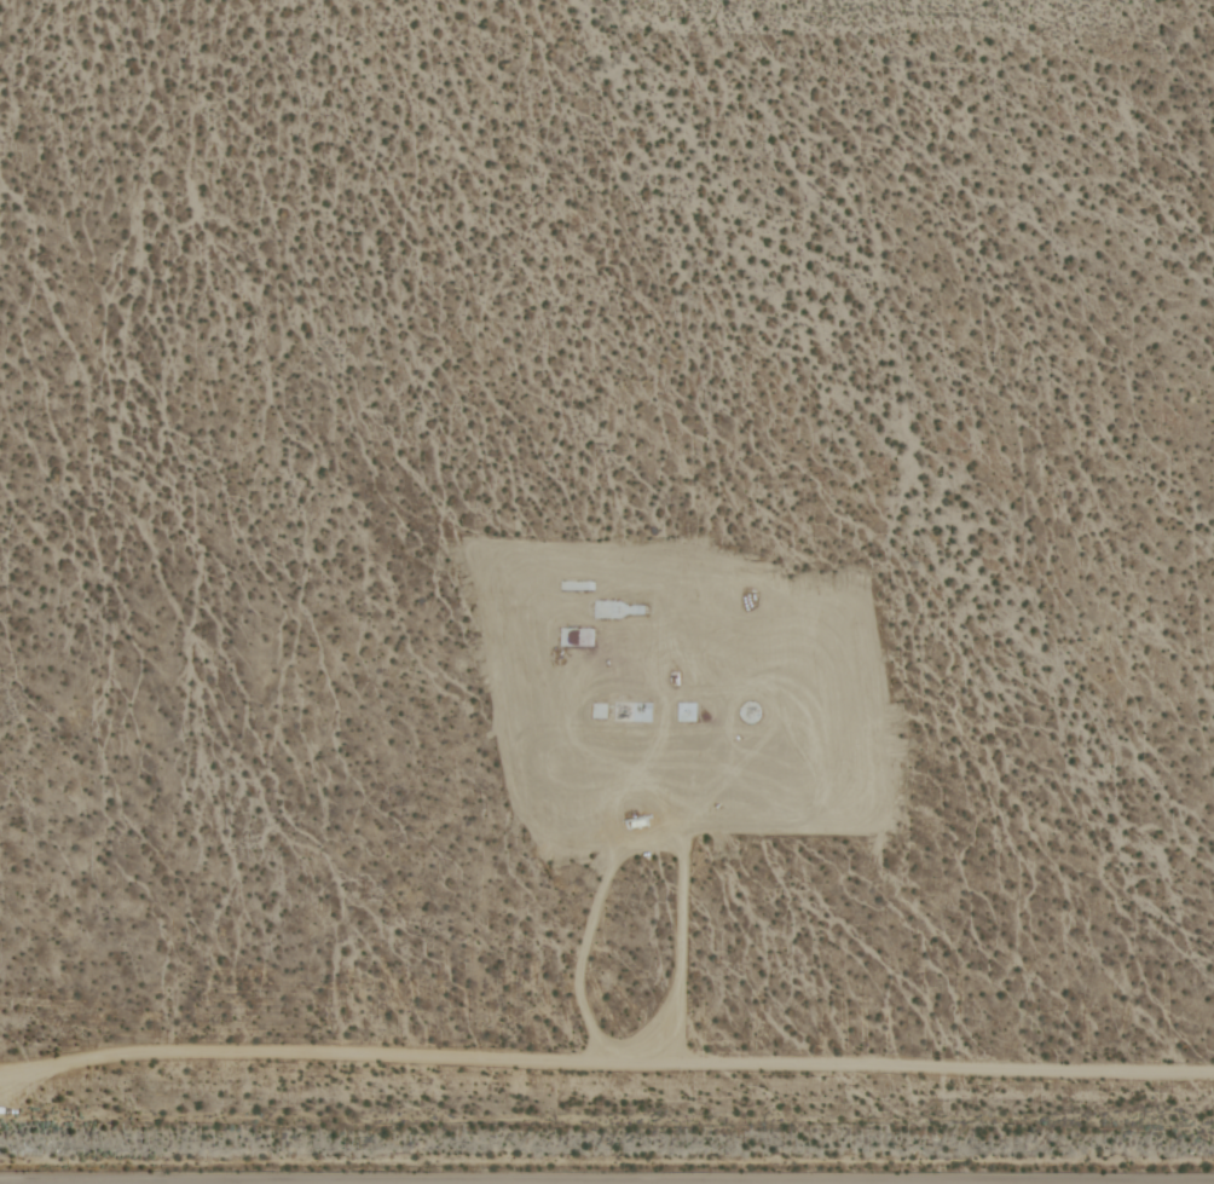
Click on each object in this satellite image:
airport: (607, 591)
road: (606, 1053)
road: (82, 1183)

